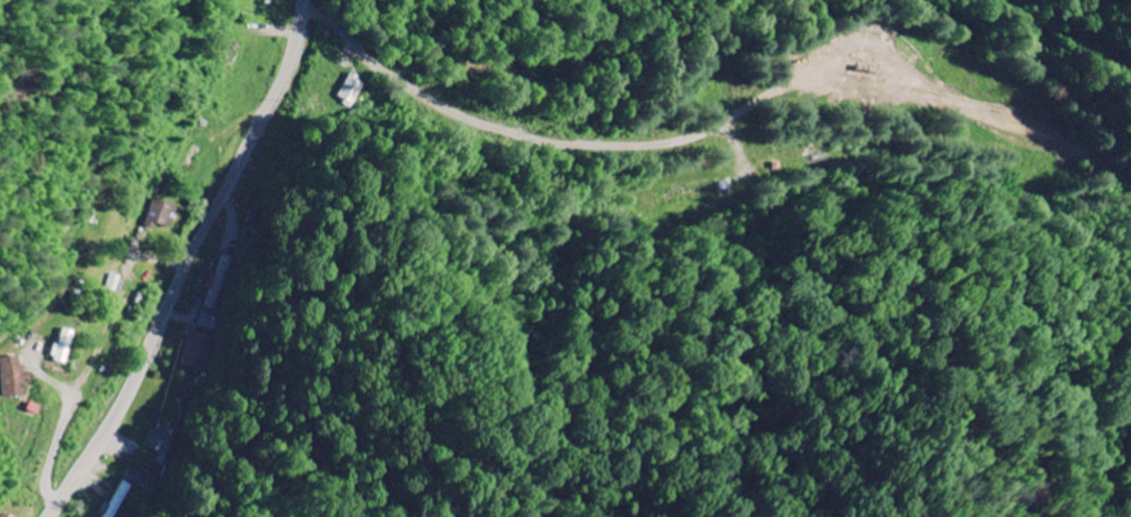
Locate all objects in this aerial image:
building: (352, 91)
building: (159, 216)
road: (192, 264)
building: (221, 283)
building: (112, 284)
building: (210, 322)
building: (64, 348)
building: (200, 352)
building: (16, 378)
building: (161, 439)
building: (127, 491)
building: (4, 516)

